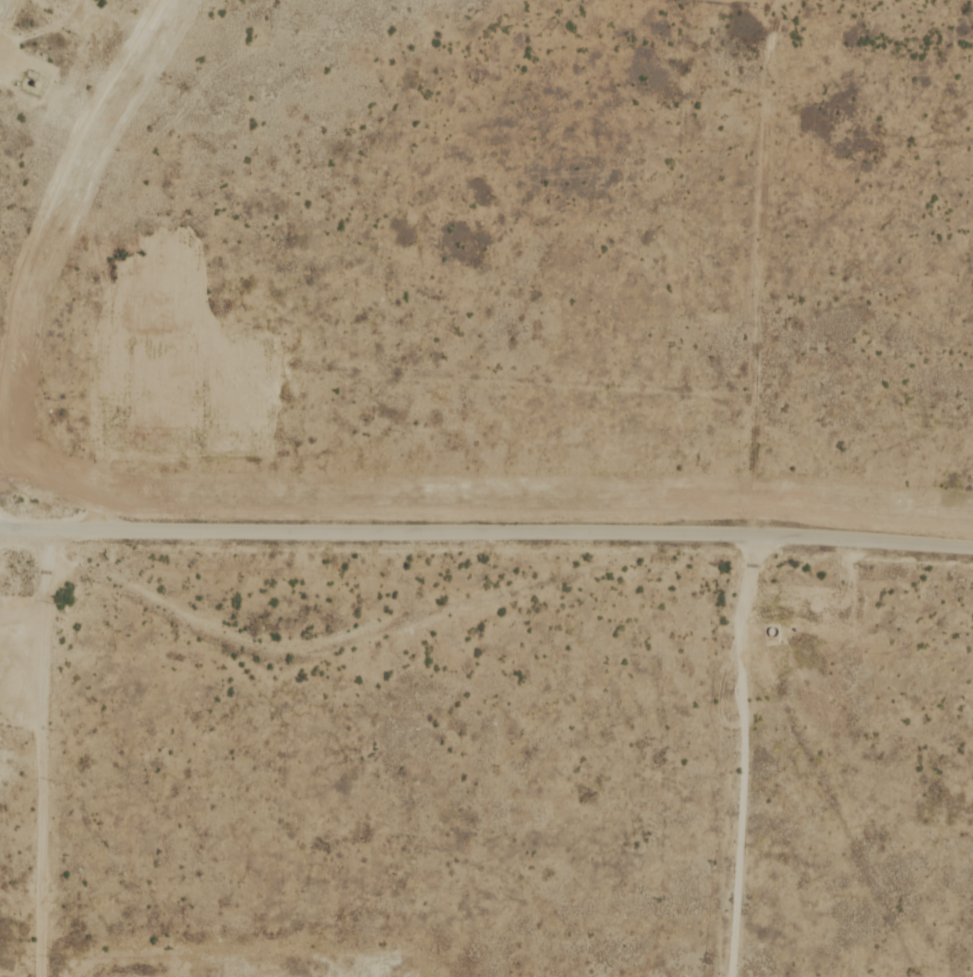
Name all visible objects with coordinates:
road: (100, 482)
road: (486, 536)
road: (22, 765)

